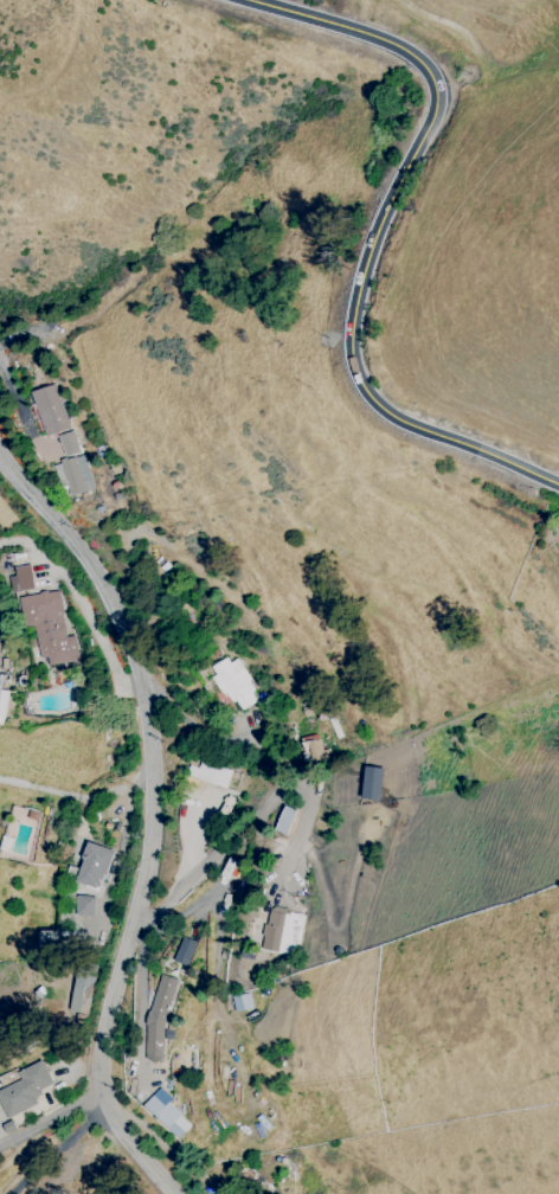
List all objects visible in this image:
road: (374, 235)
building: (50, 410)
building: (71, 466)
building: (21, 578)
road: (84, 604)
building: (47, 624)
building: (234, 682)
building: (5, 704)
building: (310, 747)
building: (211, 778)
road: (78, 797)
road: (253, 814)
road: (150, 817)
building: (285, 820)
building: (94, 866)
building: (84, 905)
building: (281, 931)
building: (184, 951)
building: (81, 994)
building: (242, 1002)
building: (159, 1018)
building: (24, 1089)
building: (167, 1116)
road: (52, 1119)
road: (57, 1144)
road: (169, 1151)

